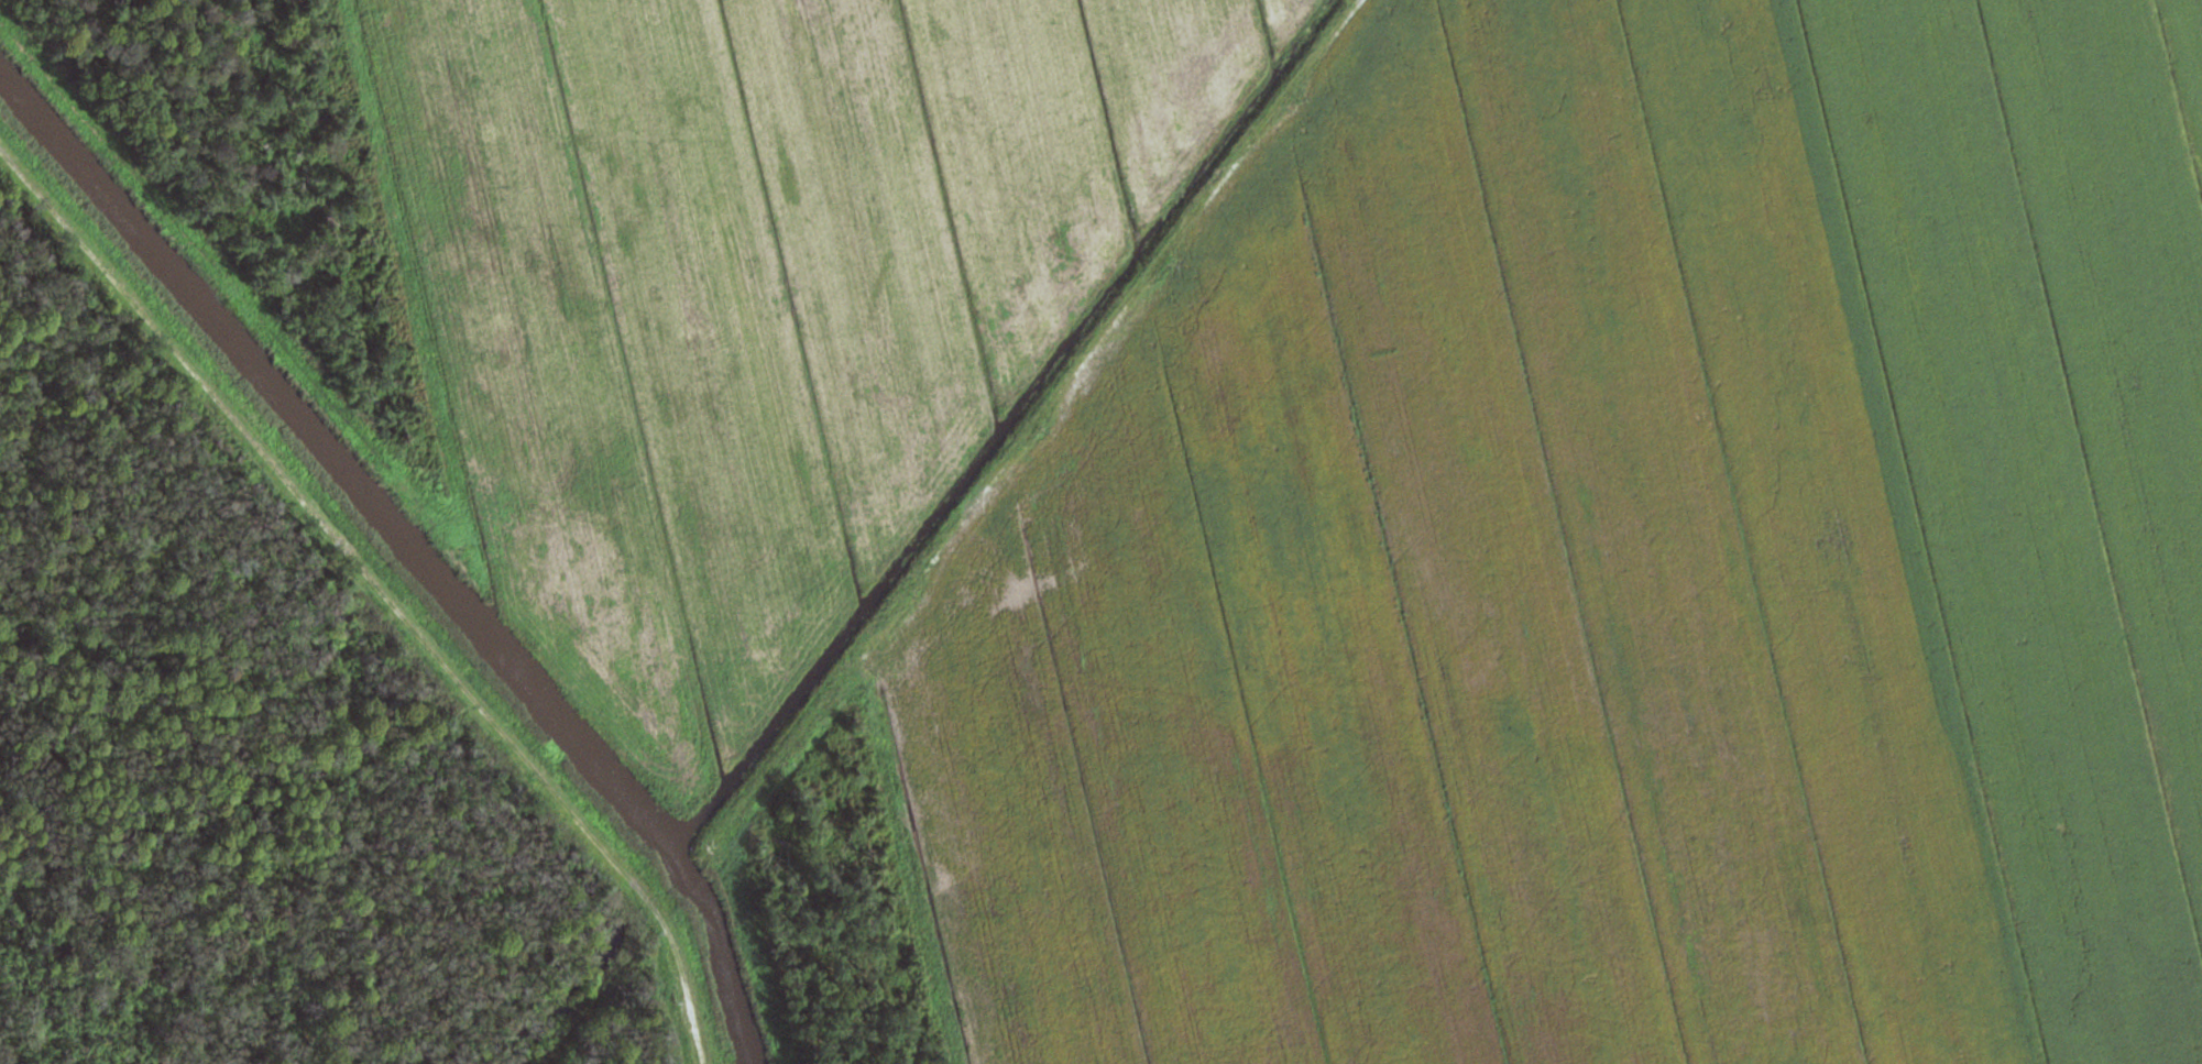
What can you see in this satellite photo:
road: (1216, 184)
crop: (760, 295)
road: (384, 563)
crop: (1610, 566)
building: (687, 875)

